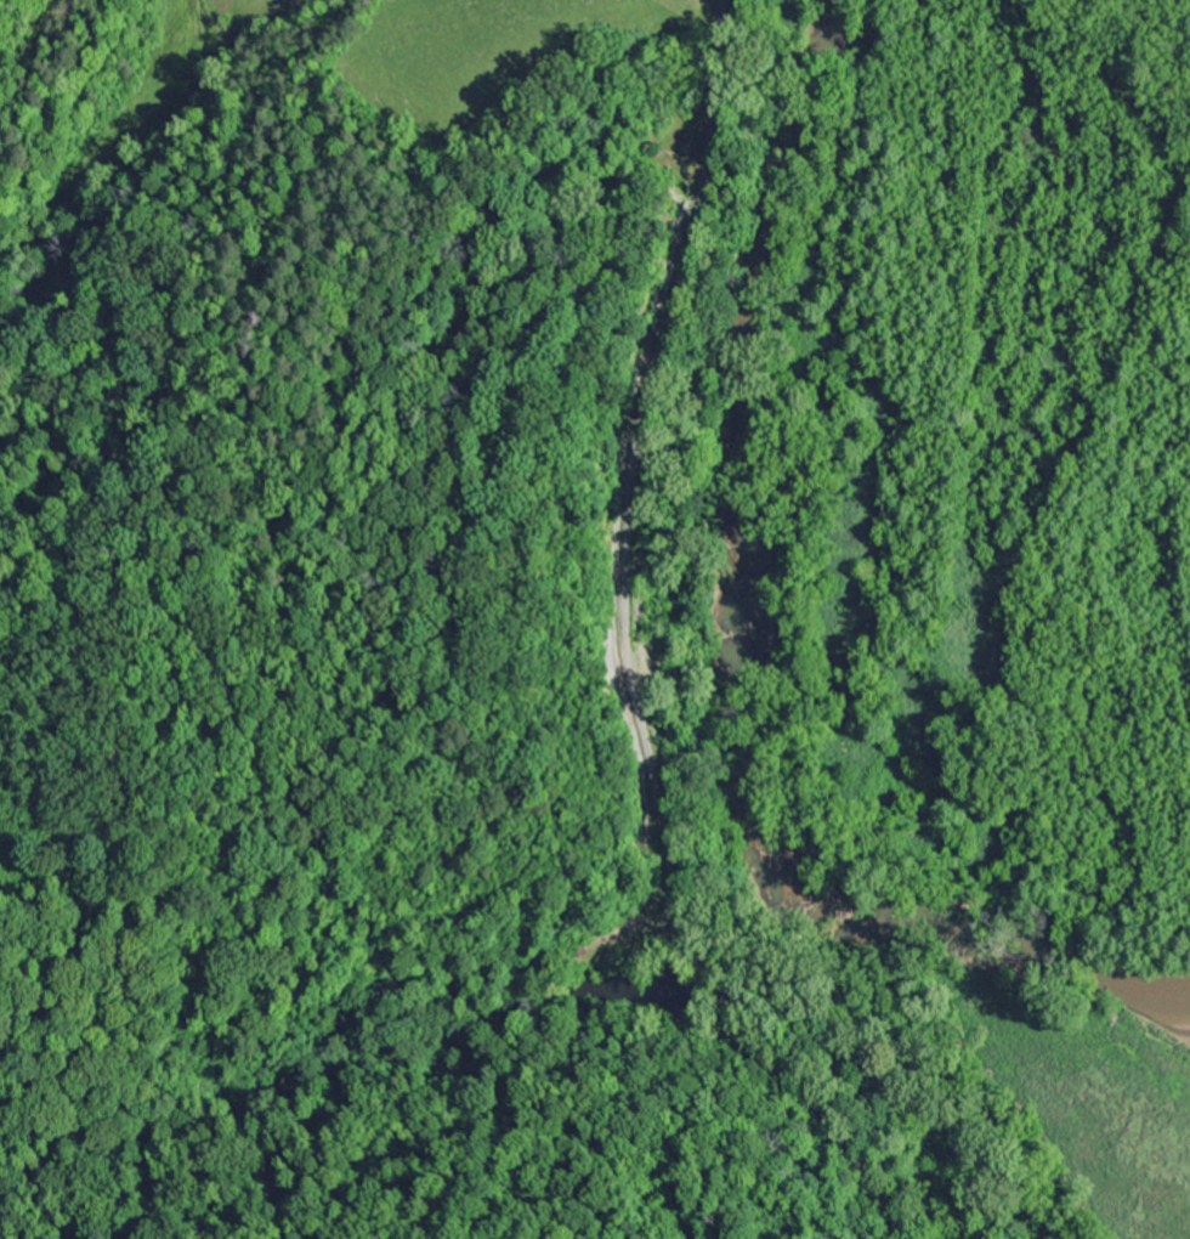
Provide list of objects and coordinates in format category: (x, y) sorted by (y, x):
river: (730, 647)
road: (630, 650)

